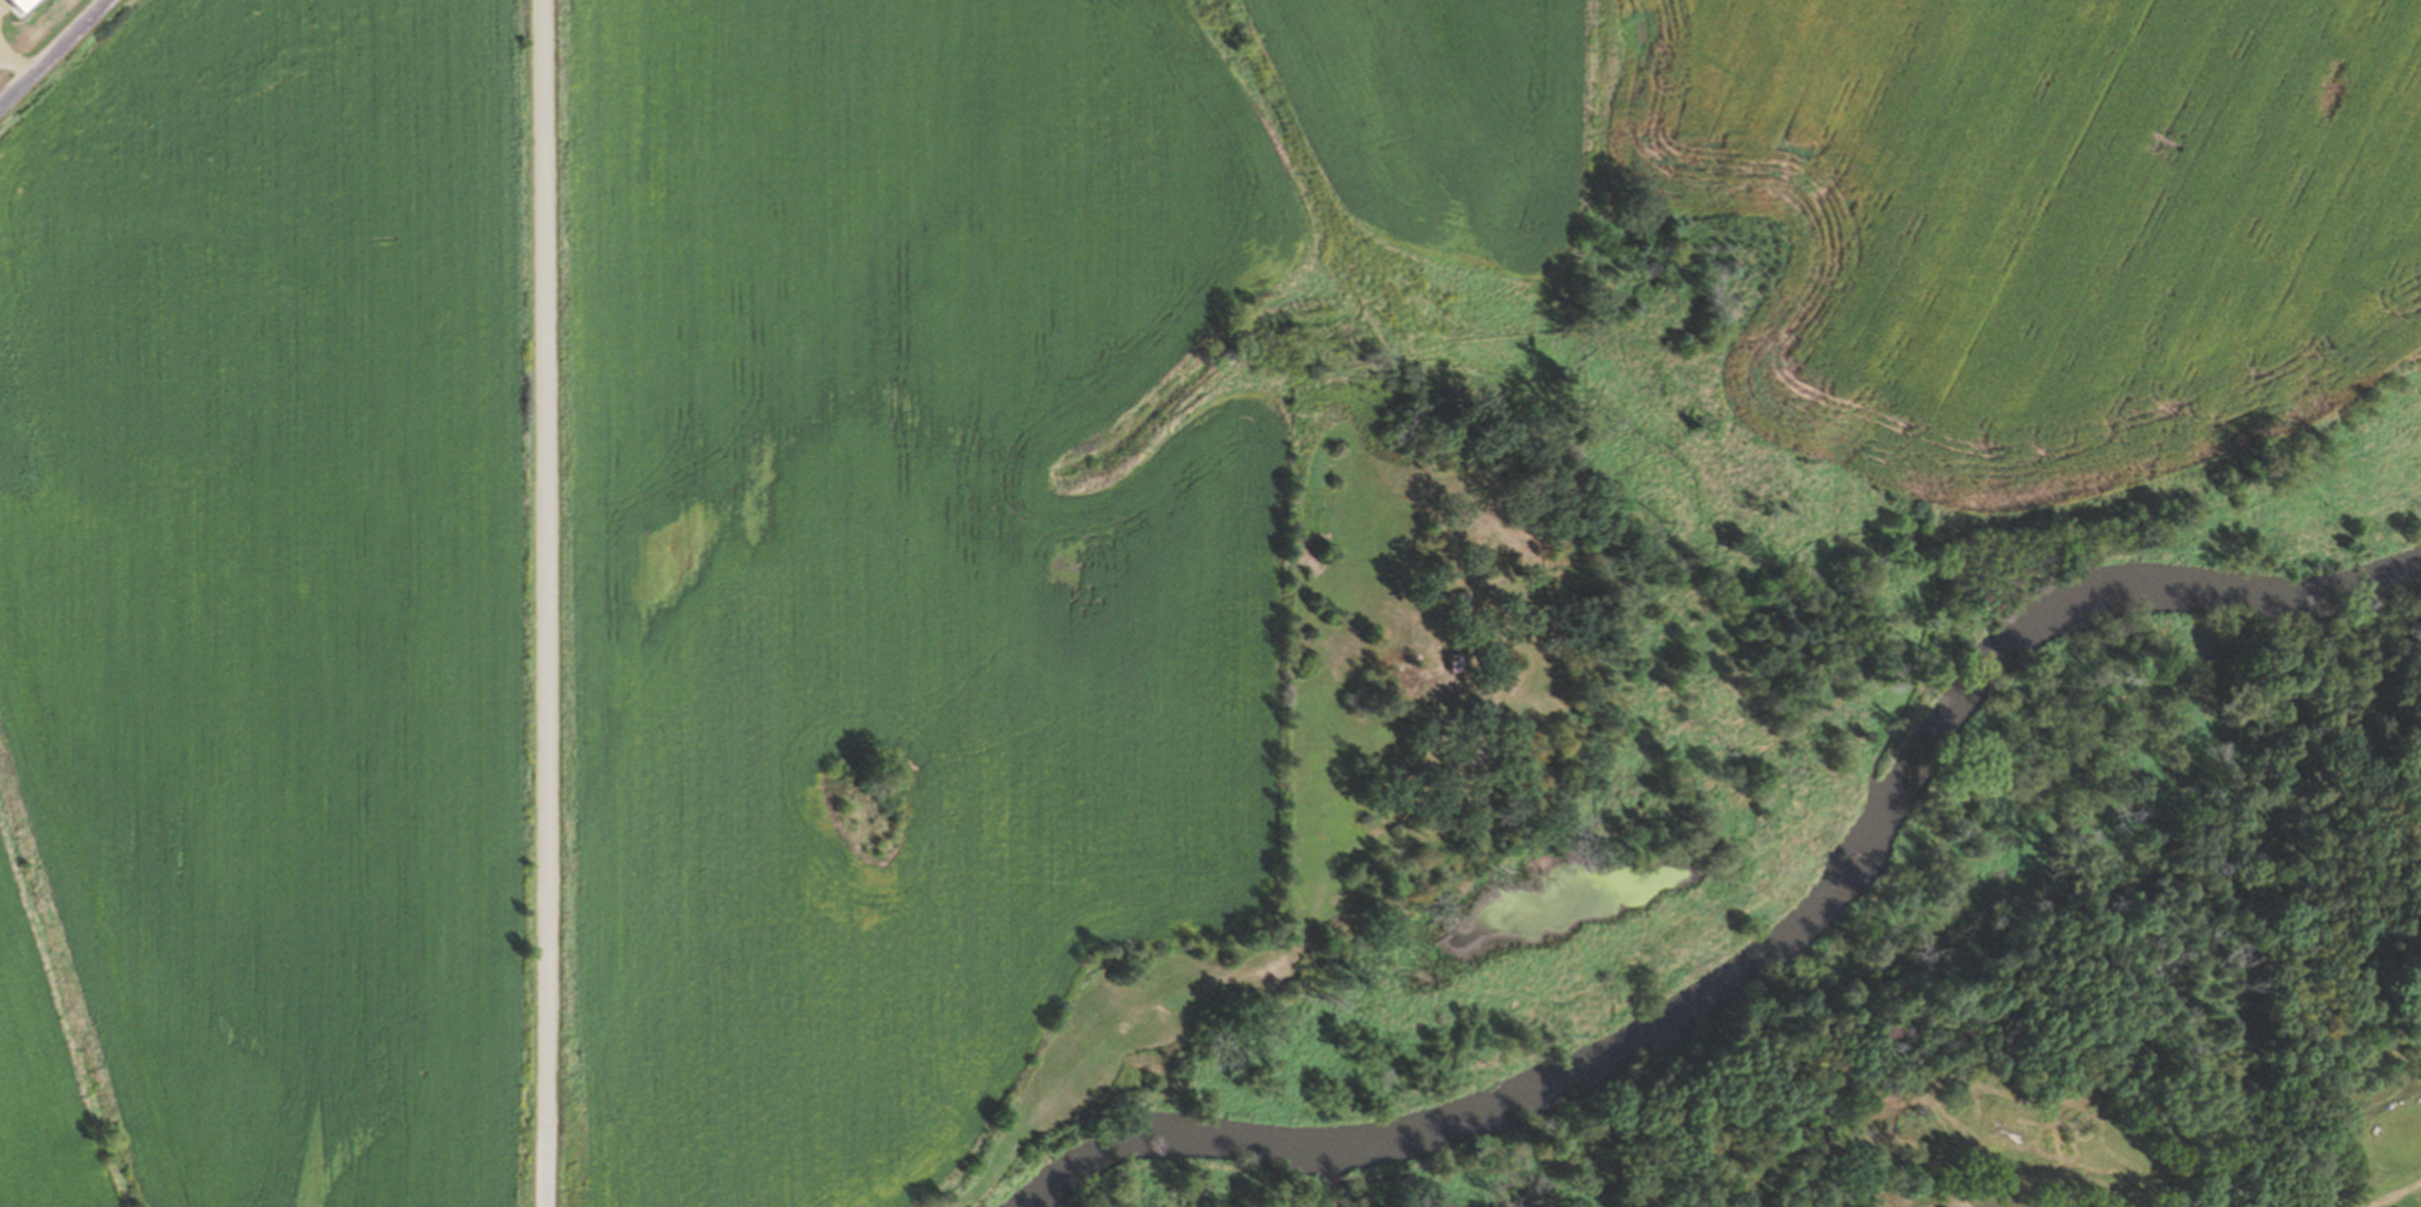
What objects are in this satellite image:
building: (23, 1)
road: (54, 52)
road: (544, 603)
river: (1776, 955)

